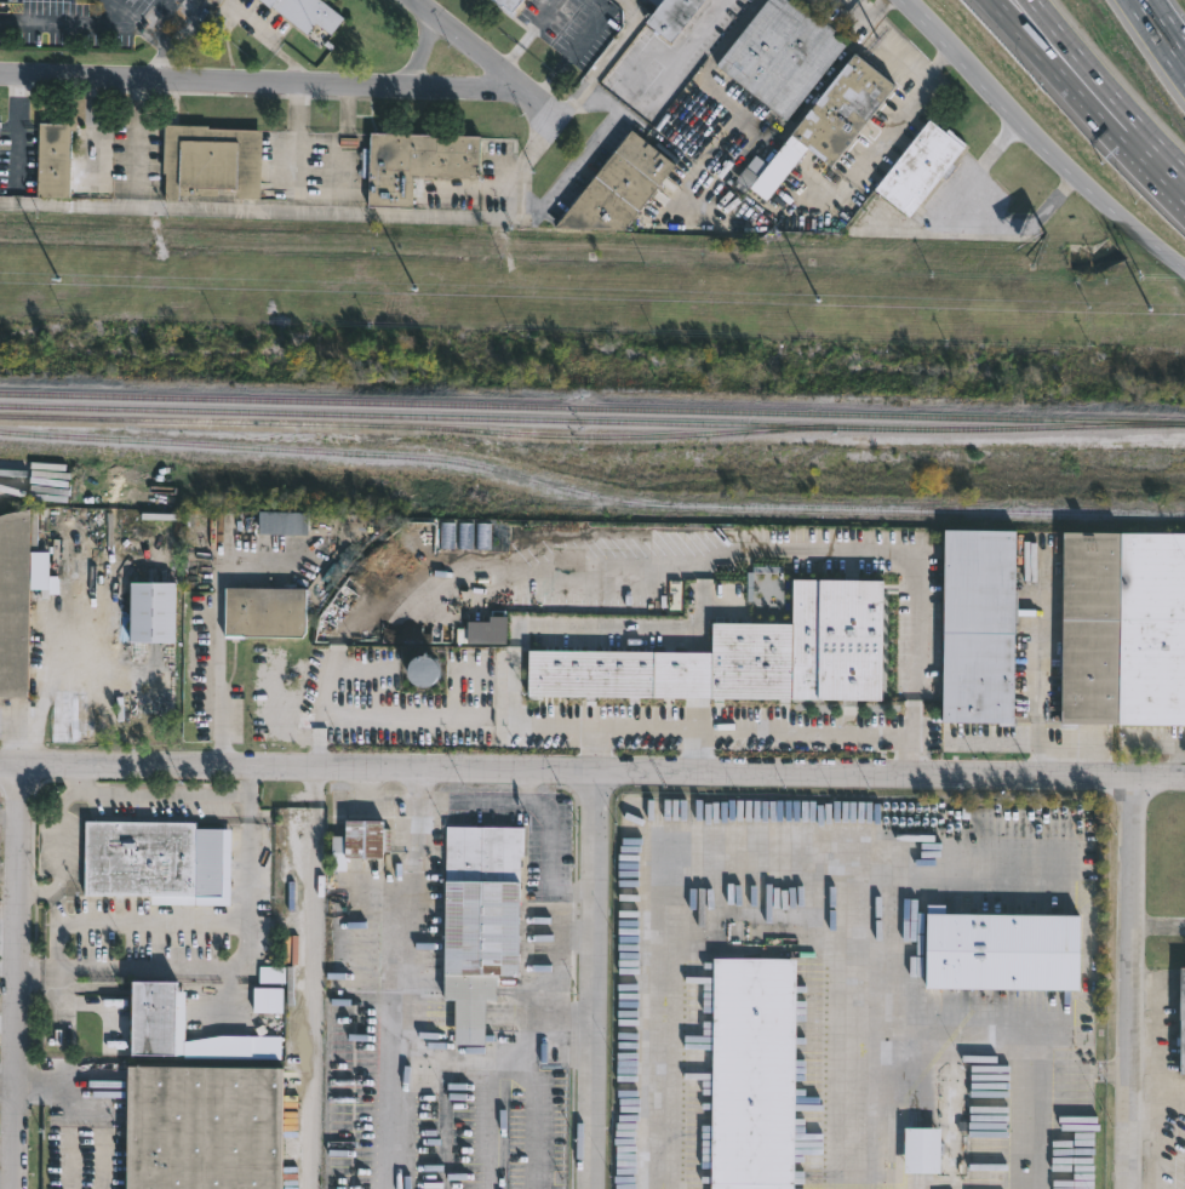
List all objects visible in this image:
building: (505, 4)
building: (303, 13)
road: (923, 13)
road: (863, 15)
road: (130, 17)
road: (189, 17)
building: (671, 17)
road: (68, 19)
road: (1163, 29)
road: (1027, 30)
road: (1044, 30)
road: (158, 39)
road: (682, 50)
road: (159, 55)
building: (785, 55)
road: (969, 63)
road: (586, 80)
road: (324, 86)
road: (893, 120)
building: (824, 122)
road: (634, 124)
road: (1124, 125)
building: (51, 158)
building: (207, 161)
building: (420, 162)
building: (918, 167)
building: (1, 181)
road: (1089, 185)
road: (468, 187)
building: (622, 187)
road: (330, 198)
road: (537, 202)
road: (258, 210)
railway: (592, 406)
railway: (591, 421)
railway: (417, 430)
railway: (590, 495)
building: (280, 521)
building: (768, 535)
building: (15, 600)
building: (267, 611)
building: (153, 613)
road: (905, 617)
building: (979, 623)
building: (1121, 627)
building: (739, 654)
road: (1038, 658)
road: (219, 664)
building: (423, 669)
road: (706, 727)
road: (972, 744)
road: (906, 751)
road: (591, 772)
road: (80, 779)
road: (251, 781)
road: (536, 785)
road: (417, 787)
road: (165, 791)
road: (59, 833)
building: (361, 841)
building: (141, 859)
road: (750, 868)
road: (38, 888)
building: (485, 919)
road: (198, 922)
road: (1157, 924)
road: (573, 936)
road: (551, 943)
building: (1004, 951)
road: (56, 962)
road: (17, 977)
road: (594, 981)
road: (1130, 983)
road: (406, 996)
road: (55, 1001)
building: (159, 1017)
road: (1011, 1019)
building: (1180, 1022)
road: (1144, 1045)
road: (571, 1046)
road: (1157, 1071)
building: (754, 1073)
road: (48, 1077)
road: (1144, 1120)
building: (204, 1127)
road: (85, 1137)
building: (927, 1151)

